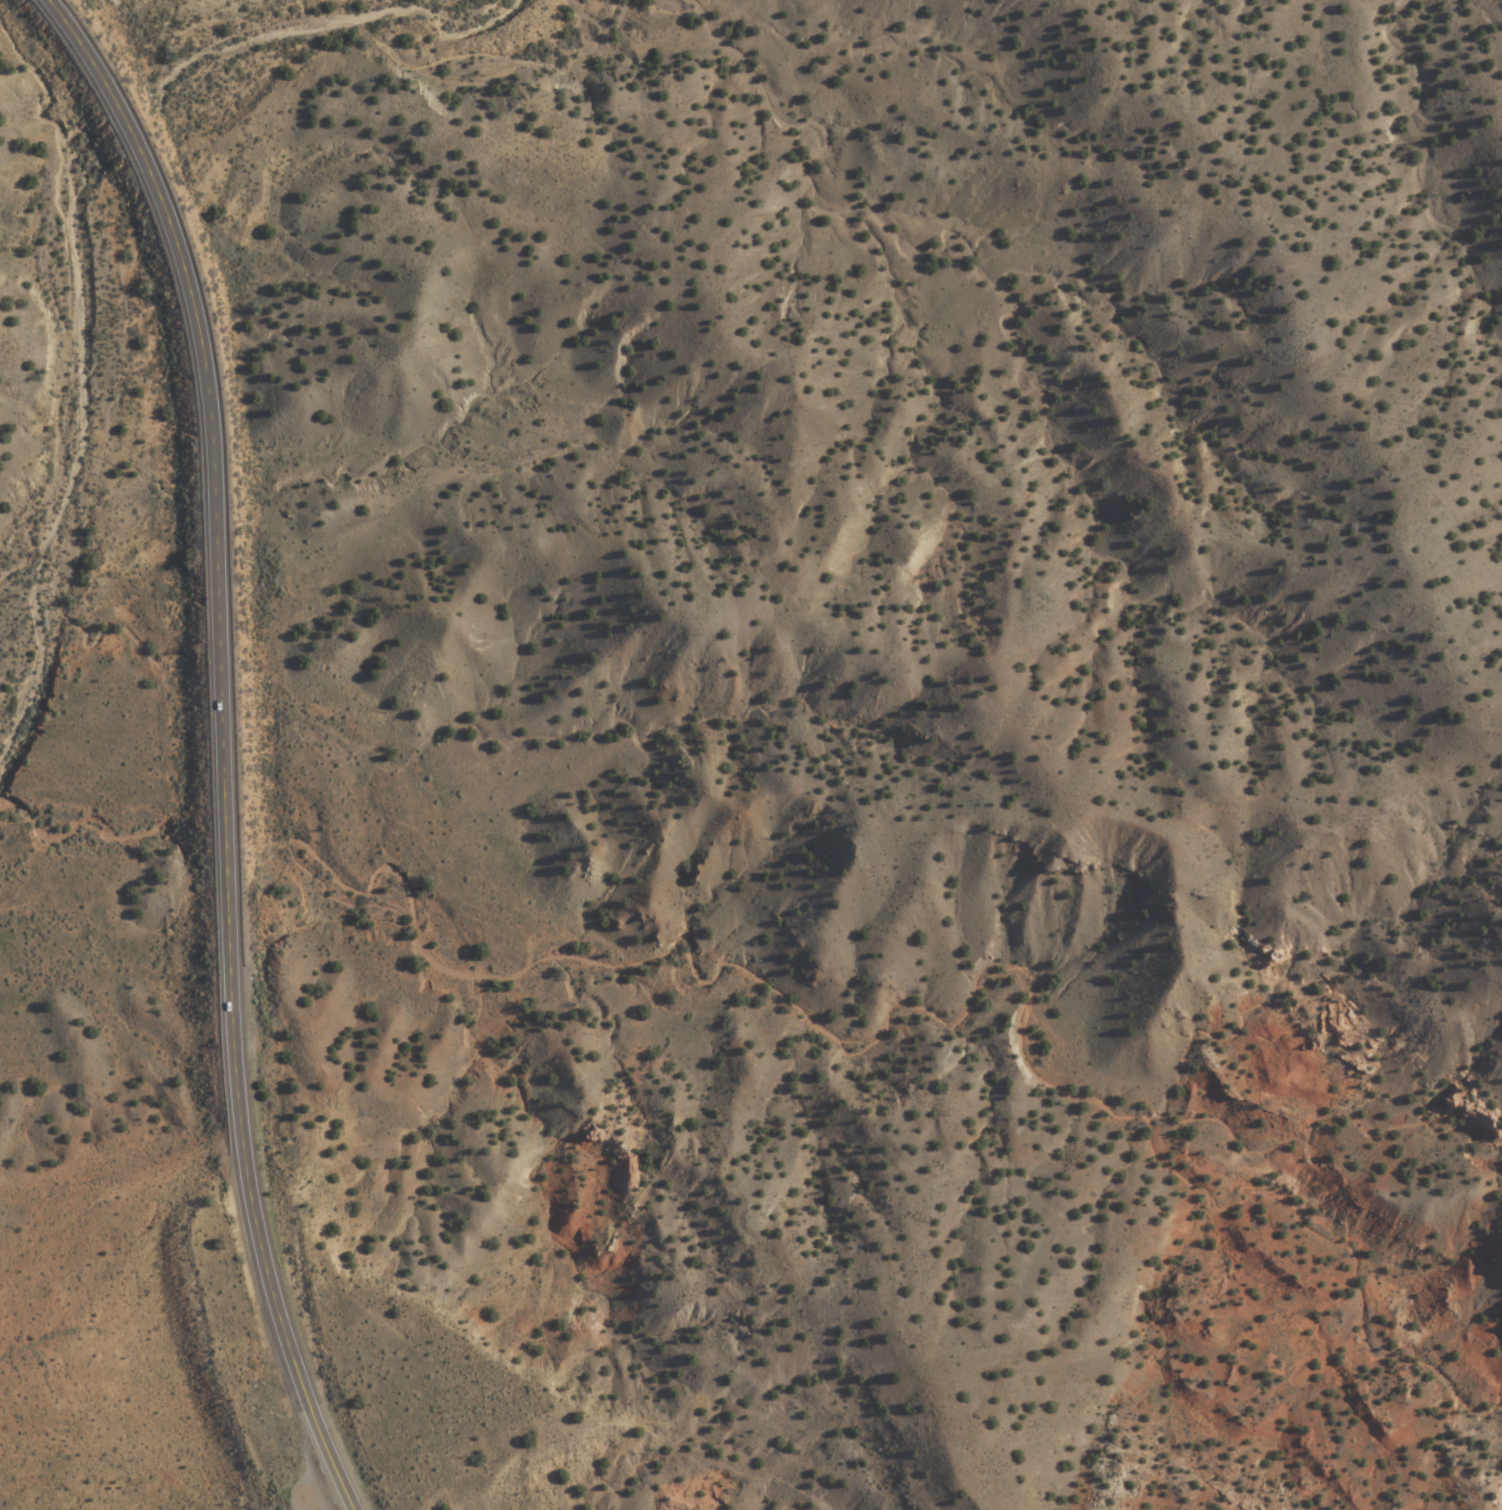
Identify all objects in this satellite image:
road: (224, 745)

